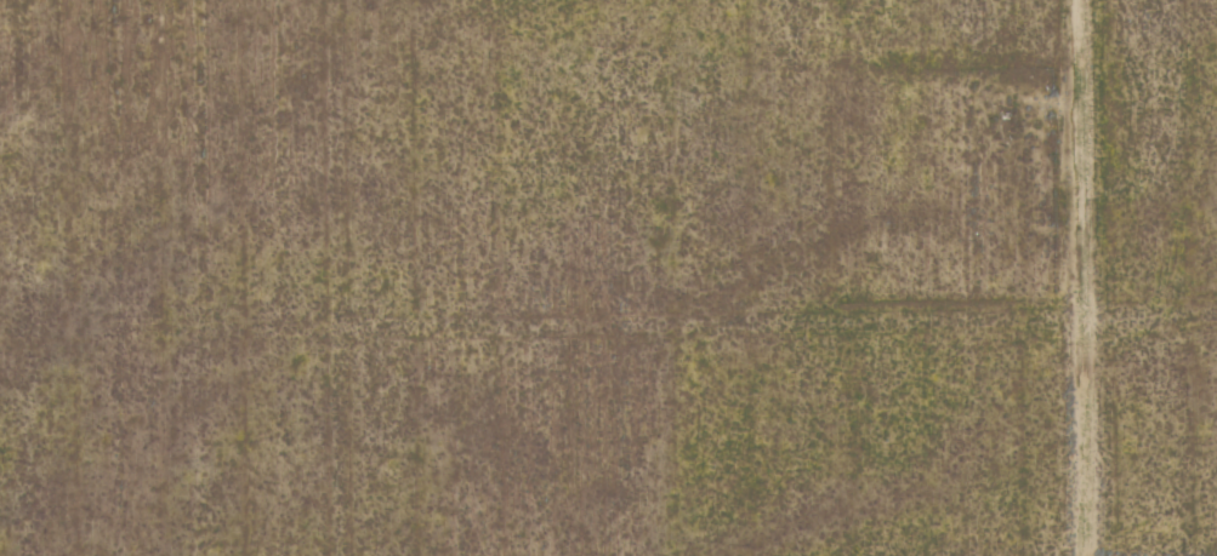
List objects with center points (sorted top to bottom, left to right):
road: (1079, 277)

